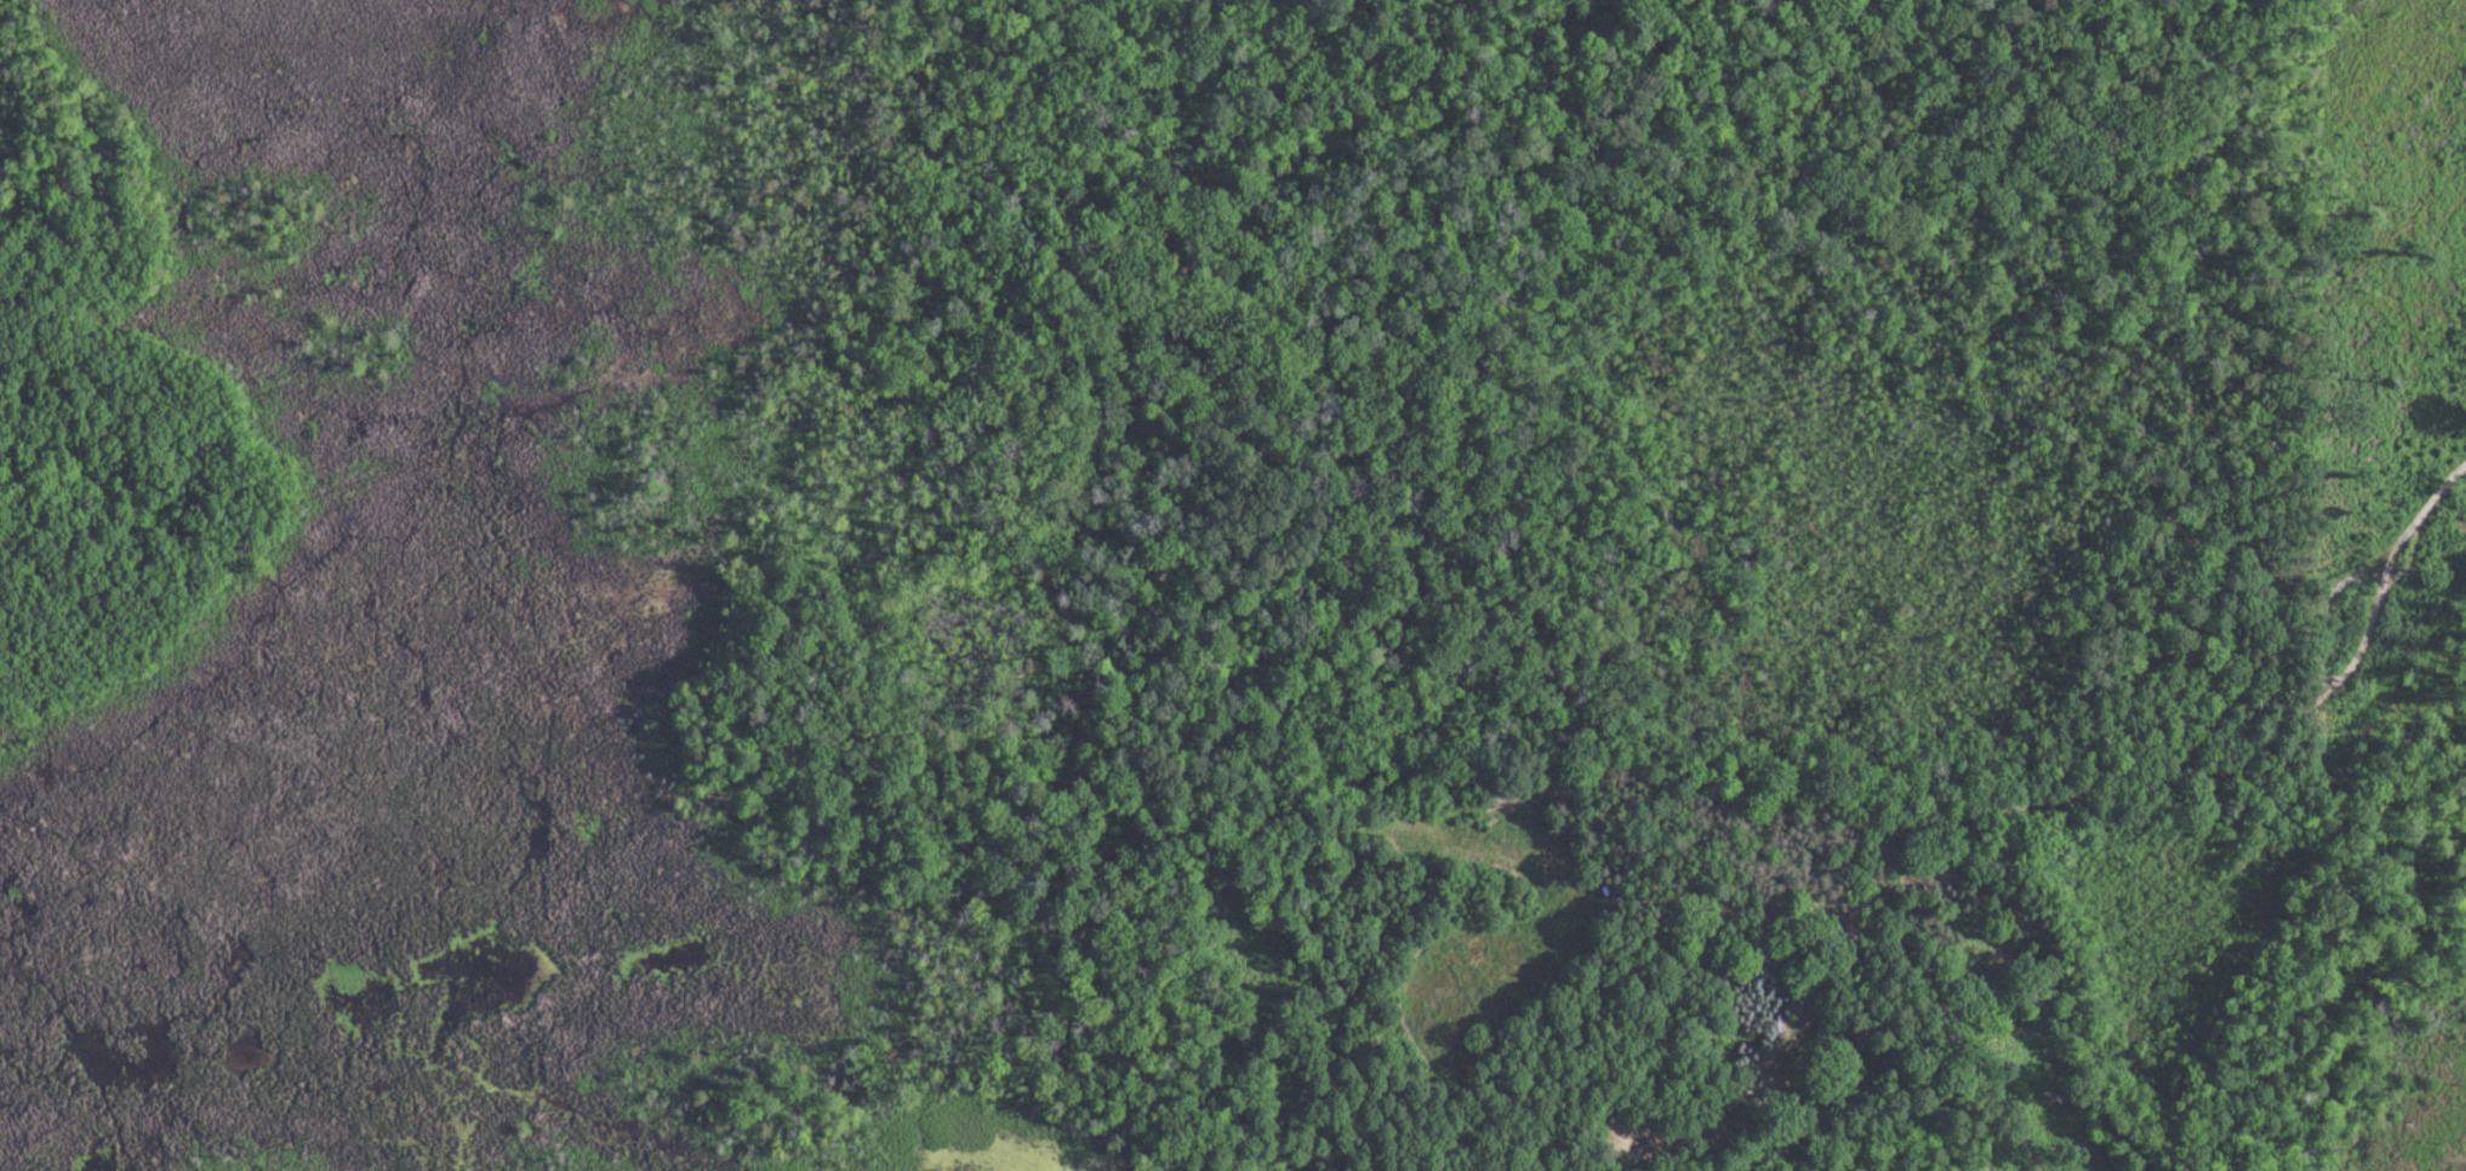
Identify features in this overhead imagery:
road: (2232, 846)

